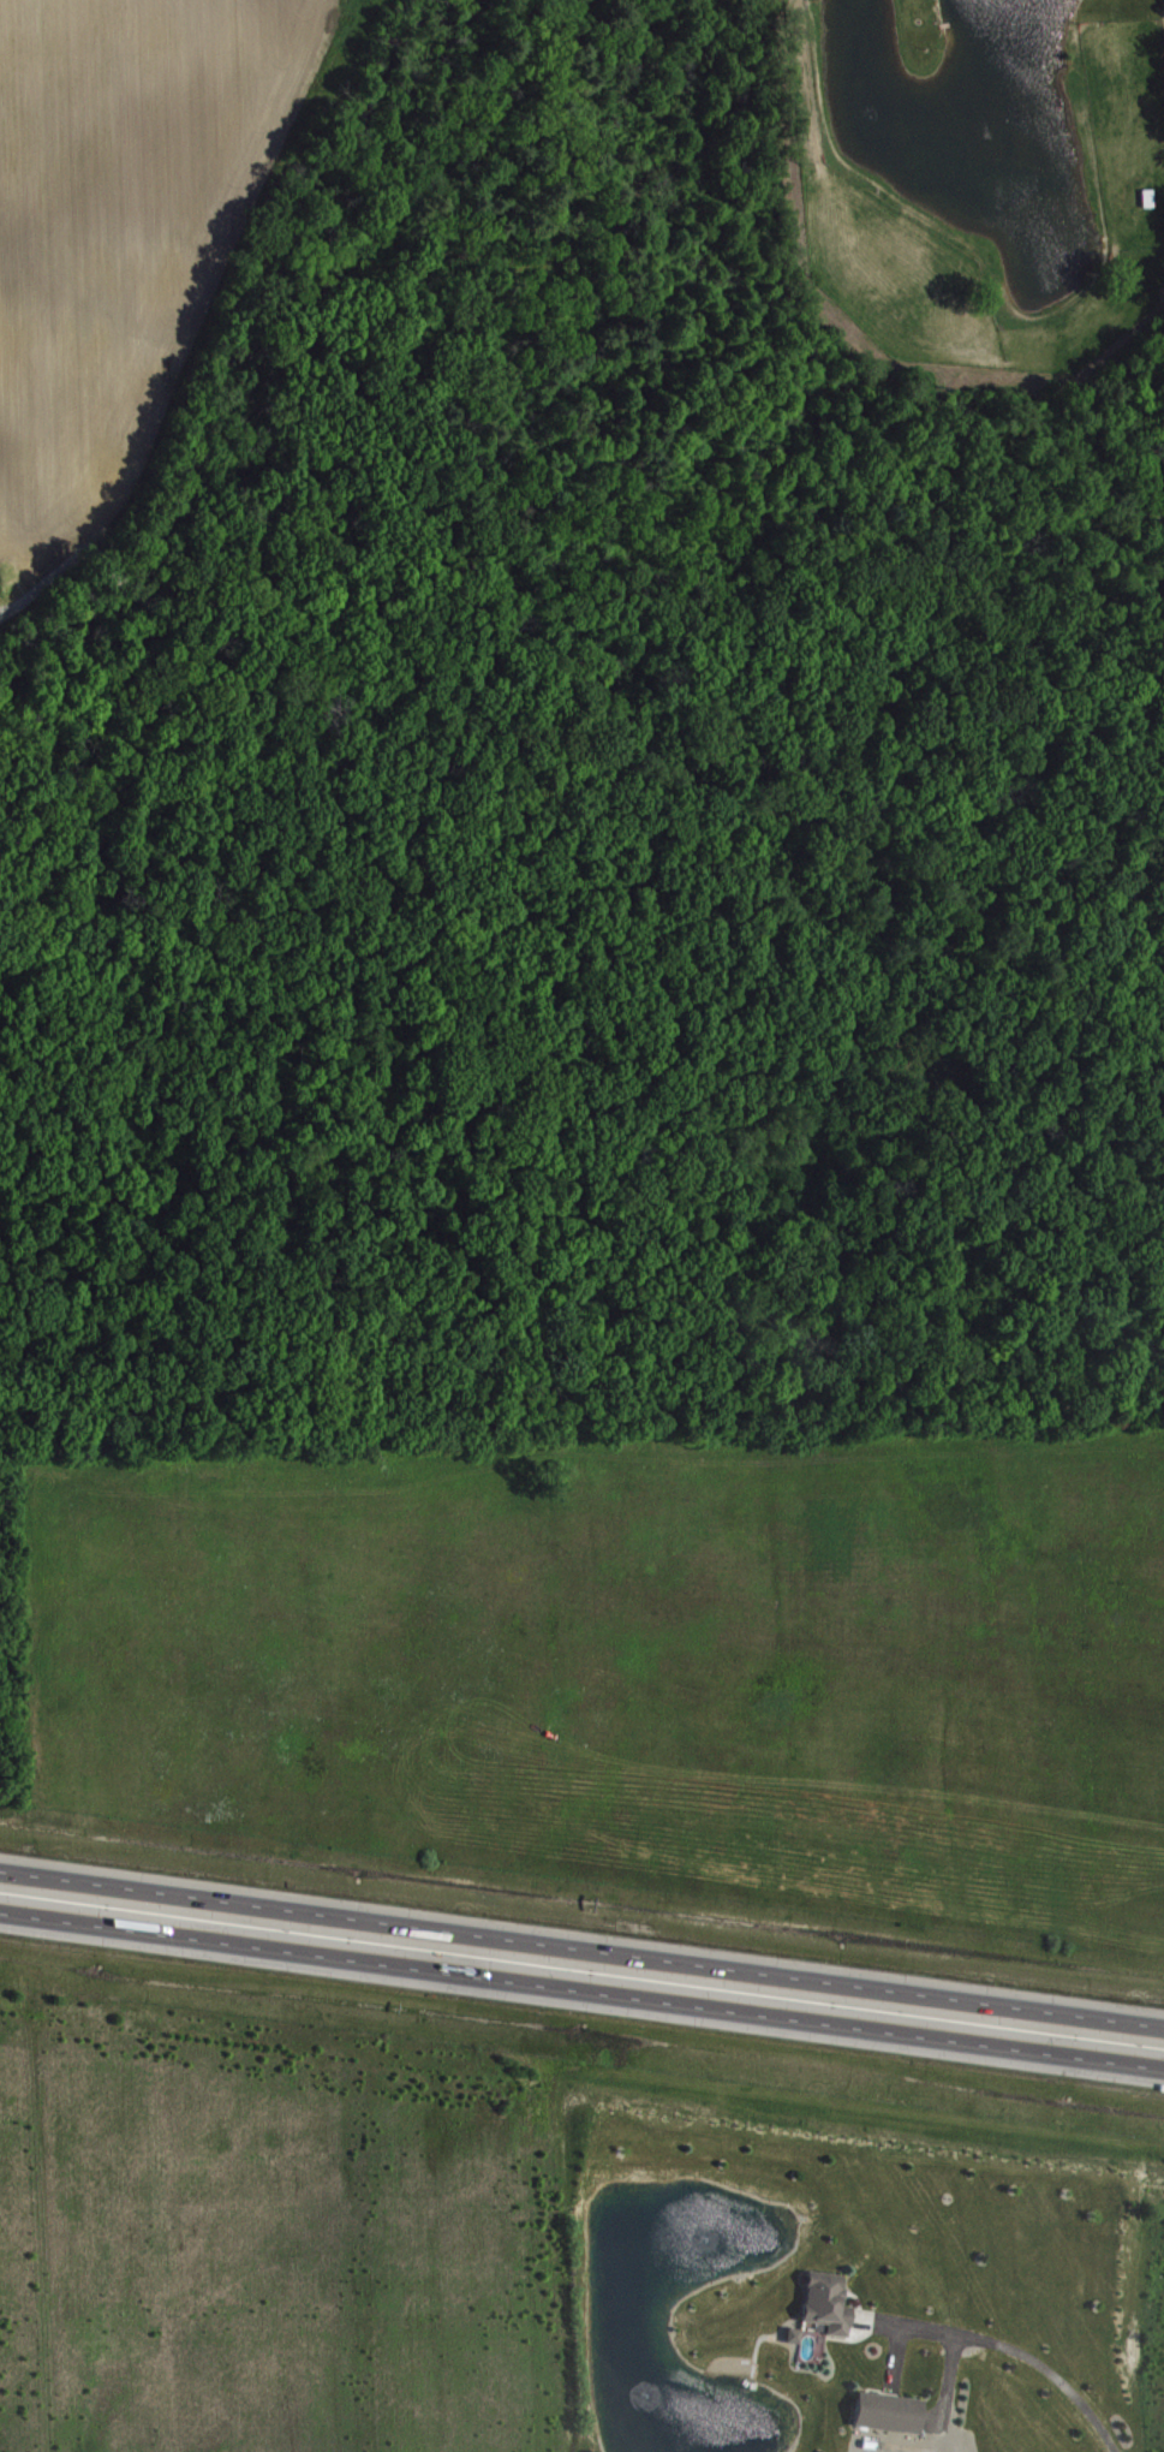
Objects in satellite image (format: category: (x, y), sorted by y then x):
crop: (131, 233)
road: (581, 1950)
road: (581, 1988)
road: (855, 2299)
building: (825, 2301)
road: (1004, 2345)
road: (891, 2358)
road: (944, 2385)
building: (885, 2410)

